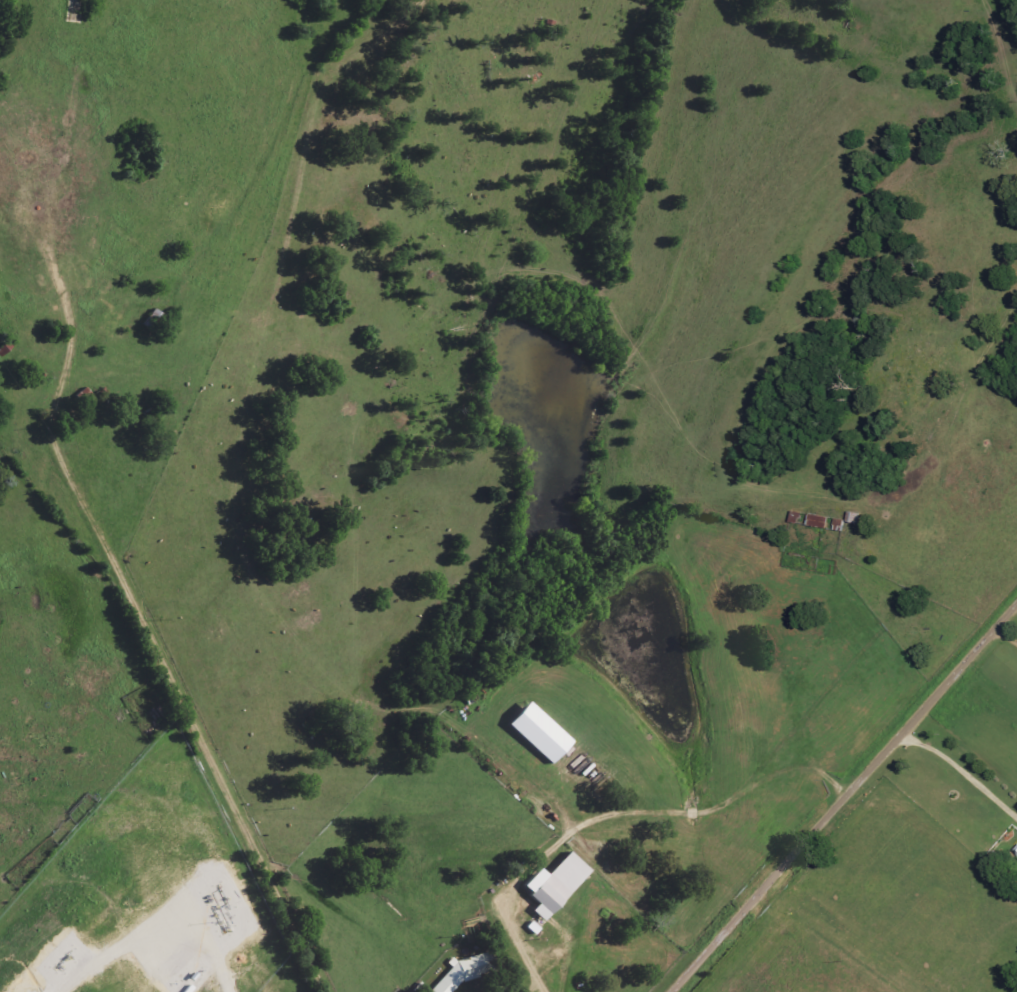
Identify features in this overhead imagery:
building: (542, 733)
road: (960, 775)
road: (844, 800)
building: (1004, 848)
building: (557, 885)
building: (534, 928)
road: (518, 948)

